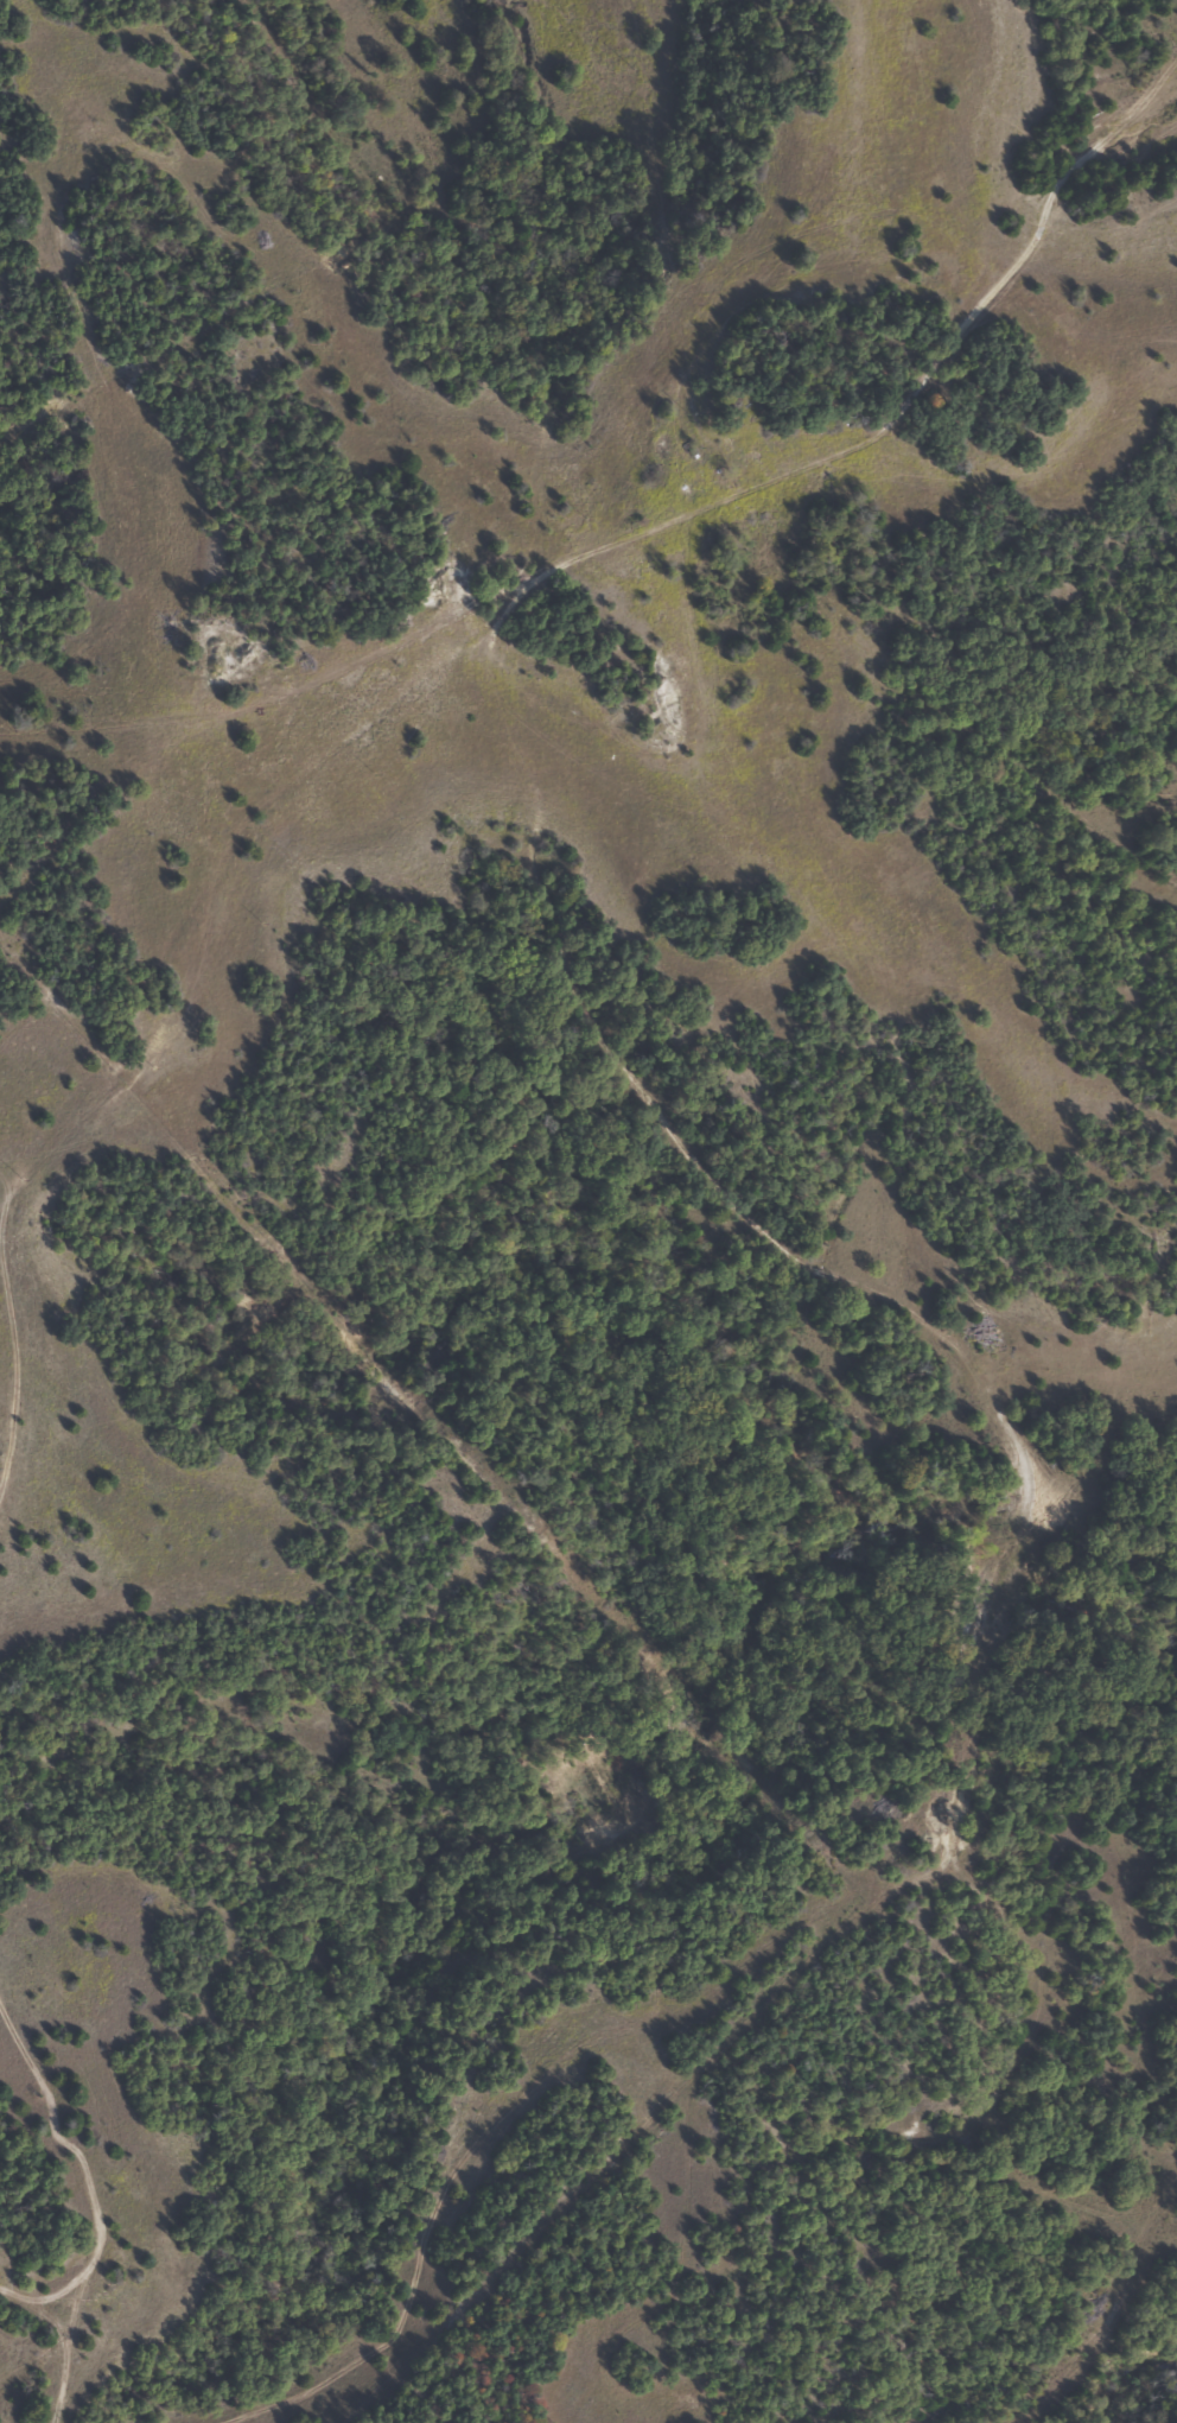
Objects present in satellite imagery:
road: (189, 1040)
road: (0, 2135)

